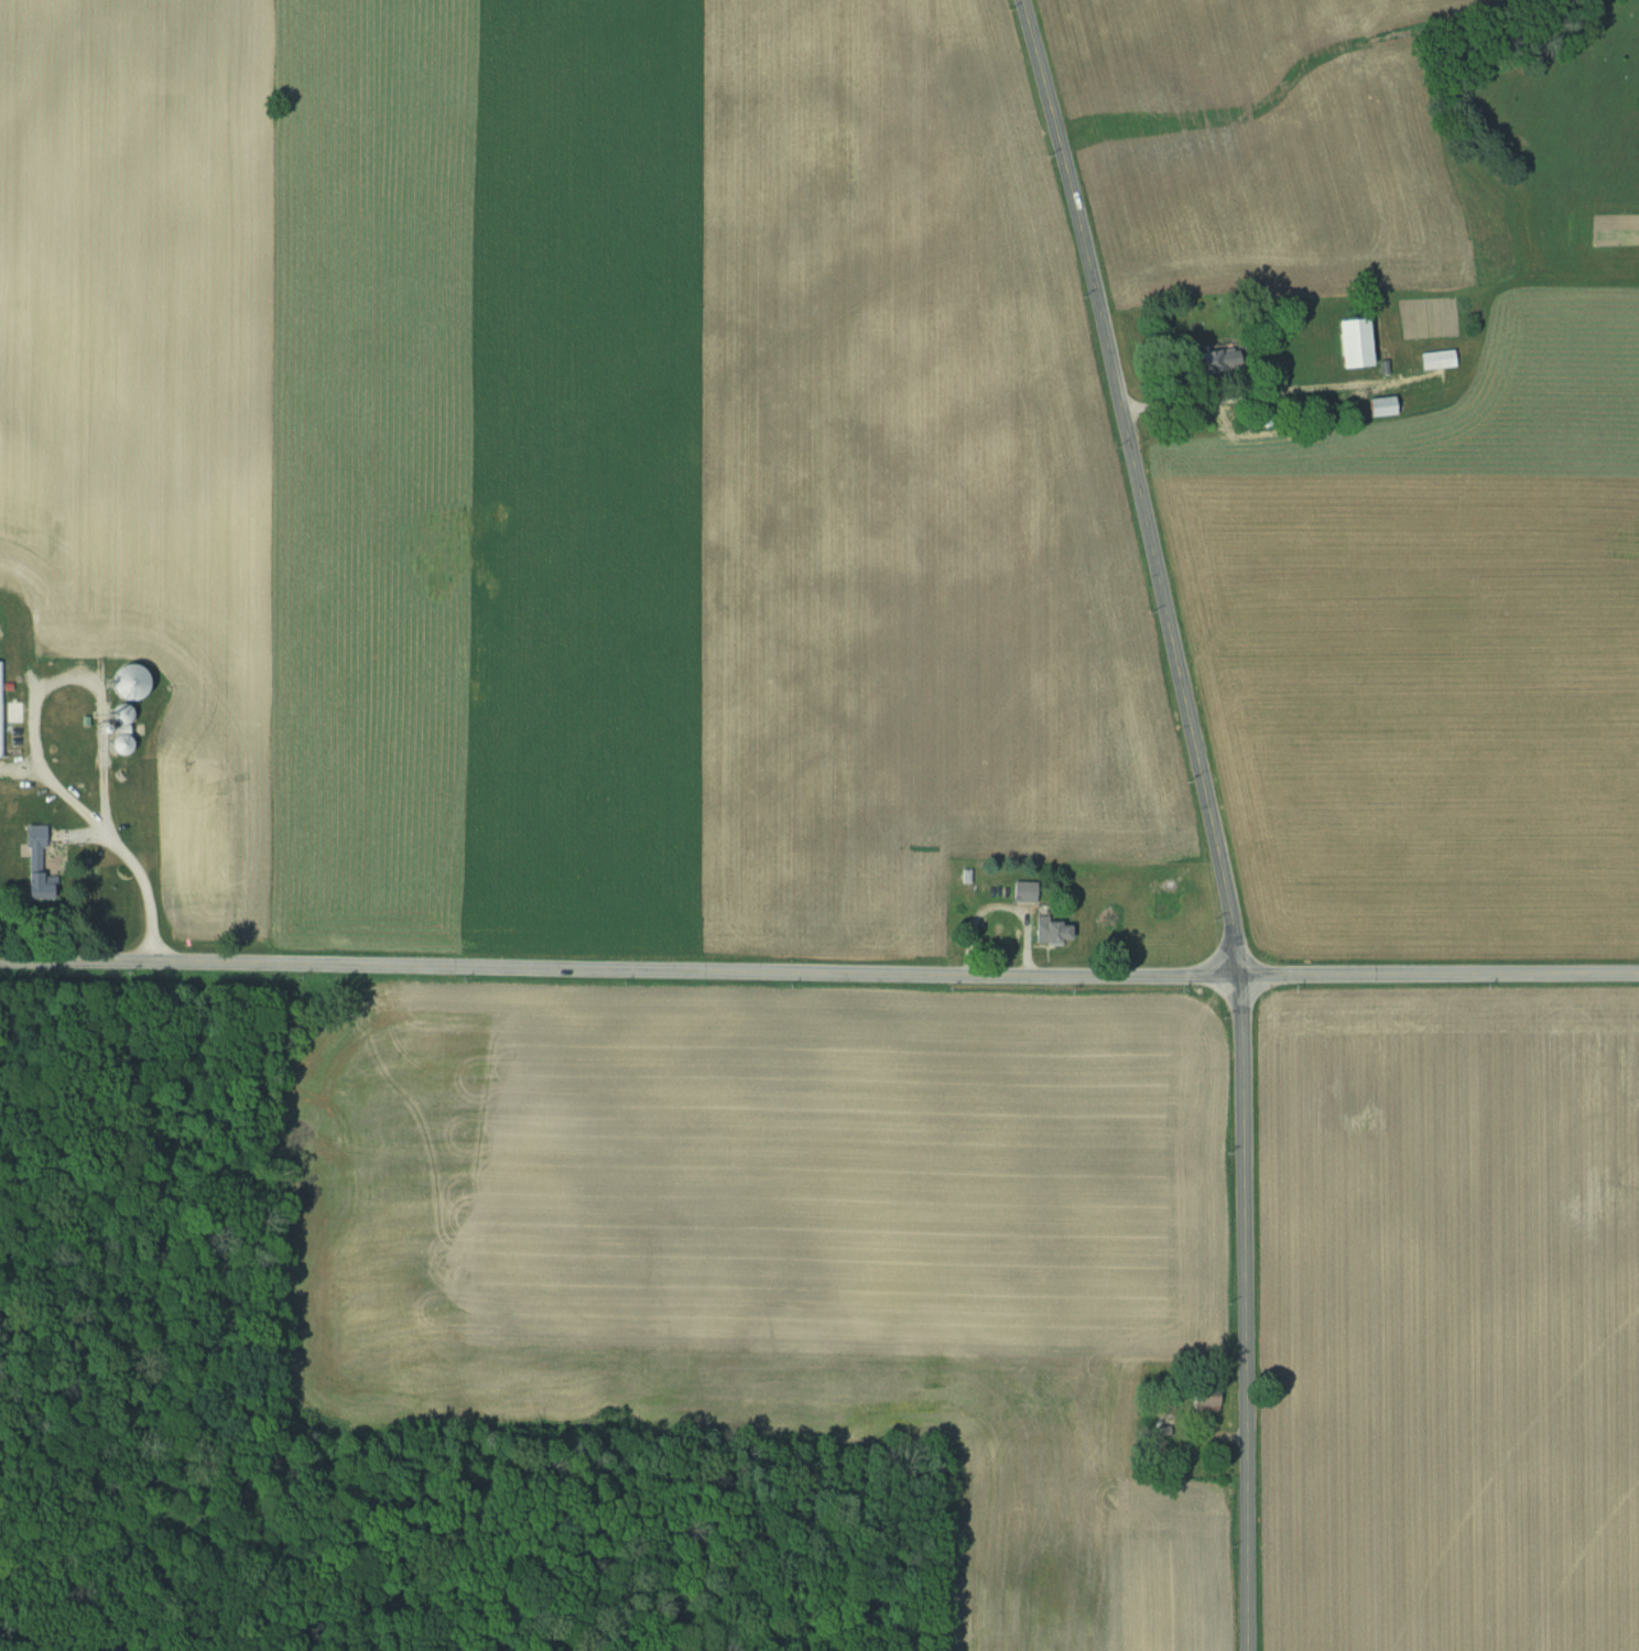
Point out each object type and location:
building: (1348, 343)
building: (1435, 359)
building: (1208, 362)
road: (1252, 392)
building: (1378, 406)
road: (1139, 486)
building: (1, 707)
building: (118, 715)
road: (99, 826)
building: (32, 862)
building: (1021, 892)
building: (1050, 933)
road: (619, 969)
road: (1439, 975)
road: (1246, 1313)
building: (1203, 1399)

